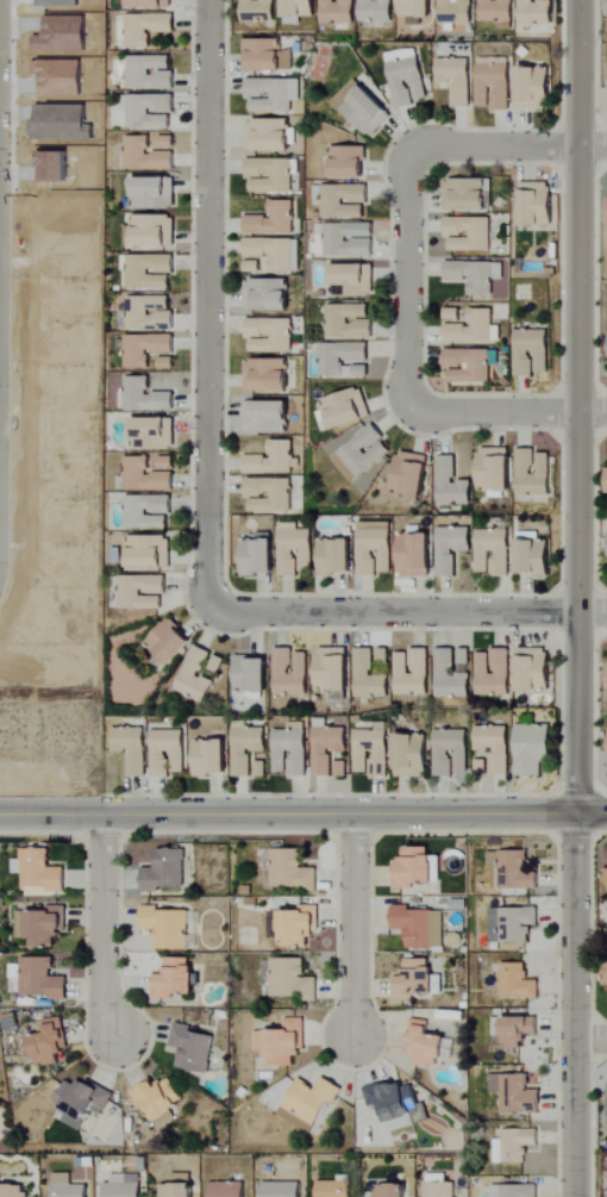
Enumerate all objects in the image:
building: (151, 4)
building: (258, 8)
building: (298, 11)
building: (338, 11)
building: (376, 11)
building: (417, 11)
building: (456, 12)
building: (537, 12)
building: (498, 13)
building: (146, 29)
building: (269, 56)
building: (151, 73)
building: (407, 77)
building: (457, 79)
building: (495, 87)
building: (537, 89)
building: (274, 95)
building: (364, 110)
building: (149, 111)
building: (269, 136)
building: (168, 142)
road: (526, 146)
building: (146, 156)
building: (349, 162)
building: (270, 175)
building: (155, 194)
building: (468, 195)
building: (342, 201)
building: (538, 204)
building: (274, 220)
building: (155, 231)
building: (470, 235)
building: (339, 243)
building: (276, 254)
building: (254, 267)
building: (151, 272)
building: (476, 275)
building: (356, 279)
road: (407, 279)
road: (208, 287)
building: (268, 295)
building: (149, 312)
building: (453, 314)
building: (349, 322)
building: (474, 329)
building: (270, 336)
building: (146, 349)
building: (533, 353)
building: (344, 360)
building: (167, 363)
building: (470, 366)
building: (268, 375)
building: (146, 397)
road: (580, 406)
building: (348, 409)
road: (525, 412)
building: (268, 418)
building: (155, 435)
building: (362, 455)
building: (274, 460)
building: (167, 463)
building: (496, 472)
building: (534, 474)
building: (412, 475)
building: (146, 476)
building: (451, 485)
building: (271, 495)
building: (149, 512)
building: (376, 549)
building: (453, 549)
building: (296, 550)
building: (151, 553)
building: (495, 553)
building: (418, 556)
building: (261, 557)
building: (338, 559)
building: (537, 559)
building: (143, 593)
road: (398, 613)
building: (170, 642)
building: (384, 656)
building: (463, 657)
building: (536, 671)
building: (292, 673)
building: (336, 673)
building: (413, 673)
building: (494, 673)
building: (252, 675)
building: (195, 677)
building: (370, 678)
building: (451, 678)
building: (328, 747)
building: (496, 748)
building: (133, 749)
building: (249, 749)
building: (534, 749)
building: (293, 750)
building: (374, 752)
building: (169, 753)
building: (452, 753)
building: (414, 756)
building: (214, 759)
building: (262, 769)
building: (343, 769)
road: (302, 813)
building: (415, 867)
building: (39, 869)
building: (292, 869)
building: (515, 869)
building: (167, 871)
building: (606, 871)
building: (517, 923)
building: (42, 925)
building: (300, 925)
road: (101, 927)
building: (168, 927)
road: (352, 927)
building: (420, 927)
building: (176, 978)
building: (606, 978)
building: (292, 979)
building: (415, 979)
building: (518, 981)
road: (574, 1005)
building: (513, 1030)
road: (590, 1040)
building: (50, 1041)
building: (283, 1042)
building: (427, 1045)
building: (194, 1048)
building: (517, 1092)
building: (159, 1099)
building: (312, 1099)
building: (396, 1103)
building: (606, 1115)
building: (515, 1145)
building: (68, 1186)
building: (181, 1186)
building: (121, 1187)
building: (337, 1187)
building: (229, 1190)
building: (283, 1190)
building: (392, 1190)
building: (440, 1190)
building: (515, 1190)
building: (13, 1191)

